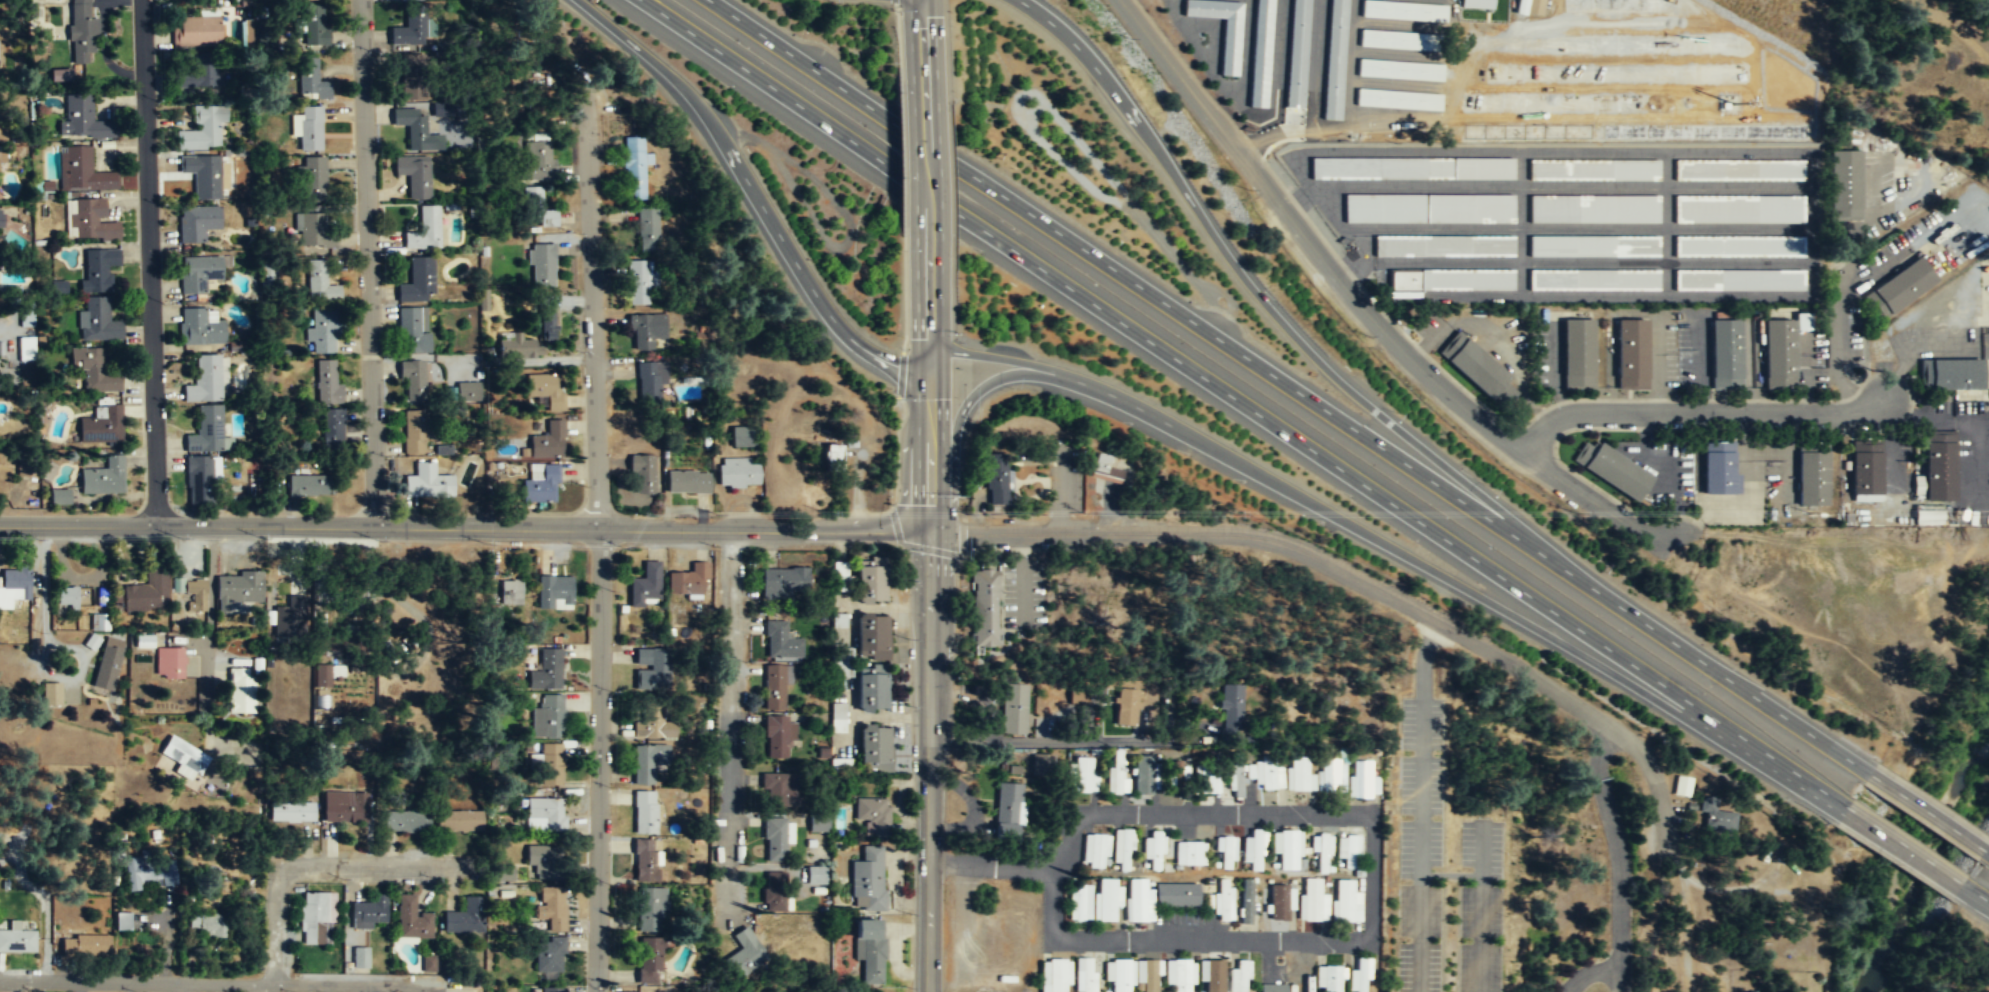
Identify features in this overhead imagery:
road: (892, 1)
building: (1479, 3)
building: (1523, 6)
building: (1537, 6)
building: (1404, 12)
building: (1481, 17)
building: (412, 30)
building: (83, 31)
building: (314, 31)
building: (196, 32)
building: (1395, 40)
road: (896, 41)
road: (921, 42)
building: (1230, 47)
road: (641, 51)
street lamp: (374, 52)
building: (1260, 53)
building: (1297, 59)
building: (1335, 59)
building: (1400, 70)
building: (197, 73)
building: (61, 74)
building: (415, 79)
building: (311, 81)
building: (1491, 82)
street lamp: (156, 100)
building: (1398, 100)
building: (451, 108)
building: (83, 119)
building: (310, 129)
building: (202, 130)
building: (416, 130)
road: (901, 153)
building: (2, 156)
building: (536, 161)
road: (925, 163)
building: (633, 168)
building: (1411, 168)
building: (1594, 170)
building: (1739, 170)
building: (83, 171)
building: (414, 174)
building: (203, 175)
building: (314, 180)
building: (1845, 186)
building: (1429, 208)
building: (536, 209)
building: (1594, 209)
building: (1739, 209)
building: (89, 220)
building: (0, 221)
building: (196, 224)
building: (424, 229)
building: (647, 229)
building: (314, 231)
building: (1444, 246)
building: (1594, 246)
building: (1739, 246)
road: (795, 262)
road: (148, 263)
road: (368, 263)
building: (542, 265)
building: (97, 270)
building: (198, 274)
building: (268, 276)
road: (1129, 279)
building: (1452, 280)
building: (1594, 280)
building: (1739, 280)
building: (418, 281)
building: (640, 282)
building: (319, 284)
building: (59, 287)
building: (1898, 288)
road: (904, 289)
road: (1262, 298)
road: (1358, 301)
street lamp: (162, 302)
building: (26, 320)
building: (97, 321)
building: (200, 327)
building: (413, 331)
building: (647, 331)
building: (323, 332)
building: (510, 337)
building: (26, 348)
street lamp: (583, 349)
building: (1578, 354)
building: (1631, 355)
building: (1725, 355)
building: (1779, 355)
road: (1015, 361)
road: (1183, 363)
building: (1477, 369)
building: (94, 371)
road: (900, 374)
building: (1950, 374)
traffic signals: (928, 375)
building: (208, 379)
building: (414, 382)
building: (327, 384)
building: (650, 385)
road: (928, 387)
building: (545, 390)
building: (468, 391)
road: (968, 402)
road: (1709, 420)
building: (101, 427)
building: (207, 431)
building: (332, 432)
building: (418, 433)
building: (744, 436)
building: (548, 441)
street lamp: (386, 455)
building: (832, 456)
building: (1937, 468)
building: (1103, 469)
building: (1612, 471)
building: (1719, 471)
building: (1865, 472)
building: (642, 474)
road: (895, 474)
building: (738, 475)
building: (1811, 476)
building: (200, 478)
building: (103, 479)
building: (995, 479)
building: (540, 482)
building: (687, 482)
building: (428, 486)
building: (308, 487)
building: (59, 497)
road: (902, 504)
street lamp: (1084, 511)
building: (1927, 515)
road: (464, 529)
traffic signals: (930, 532)
street lamp: (263, 537)
street lamp: (181, 538)
street lamp: (380, 539)
road: (600, 540)
street lamp: (626, 545)
road: (1411, 560)
street lamp: (749, 561)
building: (841, 575)
building: (689, 578)
building: (18, 579)
road: (1349, 580)
building: (782, 582)
building: (646, 583)
building: (870, 584)
building: (237, 589)
building: (145, 591)
building: (191, 591)
building: (510, 592)
building: (554, 592)
building: (65, 597)
building: (116, 601)
building: (984, 608)
road: (209, 615)
building: (290, 617)
building: (100, 621)
building: (871, 637)
building: (143, 641)
building: (782, 641)
building: (846, 662)
building: (107, 663)
building: (169, 663)
building: (653, 667)
road: (1709, 667)
building: (545, 668)
building: (321, 676)
building: (775, 685)
street lamp: (613, 689)
building: (240, 692)
building: (872, 692)
building: (51, 693)
building: (1080, 696)
building: (1127, 702)
building: (1233, 702)
building: (1014, 710)
building: (547, 717)
road: (732, 718)
building: (839, 718)
building: (654, 722)
building: (778, 736)
road: (1070, 742)
building: (875, 749)
building: (187, 758)
building: (649, 761)
road: (929, 762)
building: (551, 764)
building: (1041, 765)
river: (1962, 768)
road: (1783, 771)
building: (1117, 773)
building: (1081, 775)
building: (1297, 775)
building: (1142, 776)
building: (1267, 776)
building: (1331, 776)
building: (1361, 779)
building: (1206, 780)
building: (1236, 782)
building: (781, 788)
building: (1682, 790)
building: (1008, 807)
building: (346, 808)
building: (646, 811)
road: (1926, 812)
building: (292, 813)
building: (545, 814)
building: (872, 816)
building: (1716, 817)
building: (459, 821)
building: (407, 822)
river: (1946, 824)
building: (818, 825)
building: (776, 838)
river: (1942, 846)
road: (1903, 847)
building: (1287, 848)
building: (1347, 848)
road: (1424, 848)
building: (1122, 849)
building: (1153, 850)
building: (1252, 850)
building: (1095, 851)
building: (1225, 851)
building: (1321, 851)
road: (1986, 851)
building: (1189, 854)
building: (646, 860)
building: (543, 861)
road: (990, 865)
river: (1928, 867)
road: (318, 868)
road: (1619, 872)
building: (150, 874)
building: (818, 875)
street lamp: (437, 878)
building: (868, 881)
building: (775, 890)
road: (1975, 893)
building: (1175, 895)
building: (1106, 899)
building: (1138, 900)
building: (1312, 900)
building: (1345, 901)
building: (1080, 902)
building: (1246, 902)
building: (1279, 902)
building: (1223, 904)
building: (651, 907)
building: (553, 909)
building: (369, 913)
building: (316, 918)
building: (465, 918)
building: (412, 920)
building: (123, 922)
building: (209, 926)
river: (1891, 934)
road: (1064, 940)
building: (18, 941)
building: (87, 946)
building: (869, 950)
building: (745, 954)
building: (360, 957)
building: (650, 959)
building: (550, 960)
building: (428, 964)
street lamp: (259, 972)
building: (1117, 974)
building: (1054, 975)
building: (1084, 975)
building: (1147, 975)
building: (1177, 975)
building: (1212, 976)
building: (1358, 976)
building: (1239, 977)
building: (1327, 979)
road: (202, 984)
street lamp: (610, 984)
road: (259, 988)
building: (1272, 988)
building: (550, 990)
street lamp: (38, 991)
building: (626, 991)

